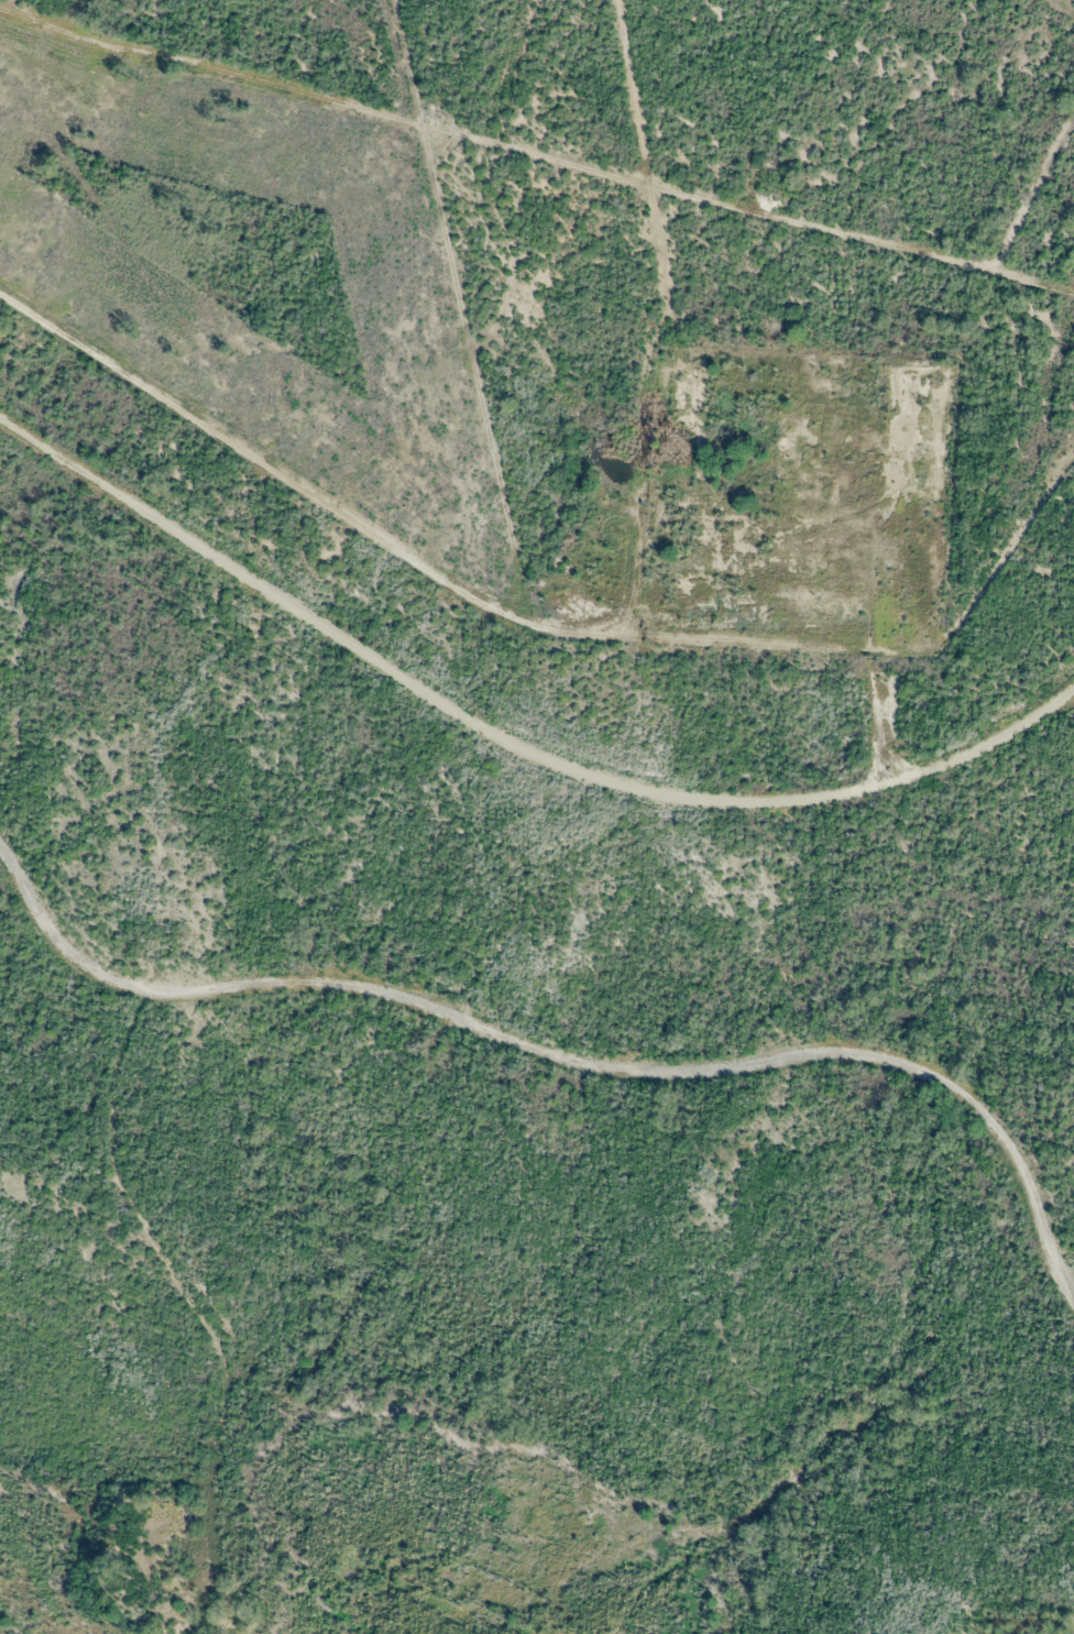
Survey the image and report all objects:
road: (511, 721)
road: (570, 1057)

